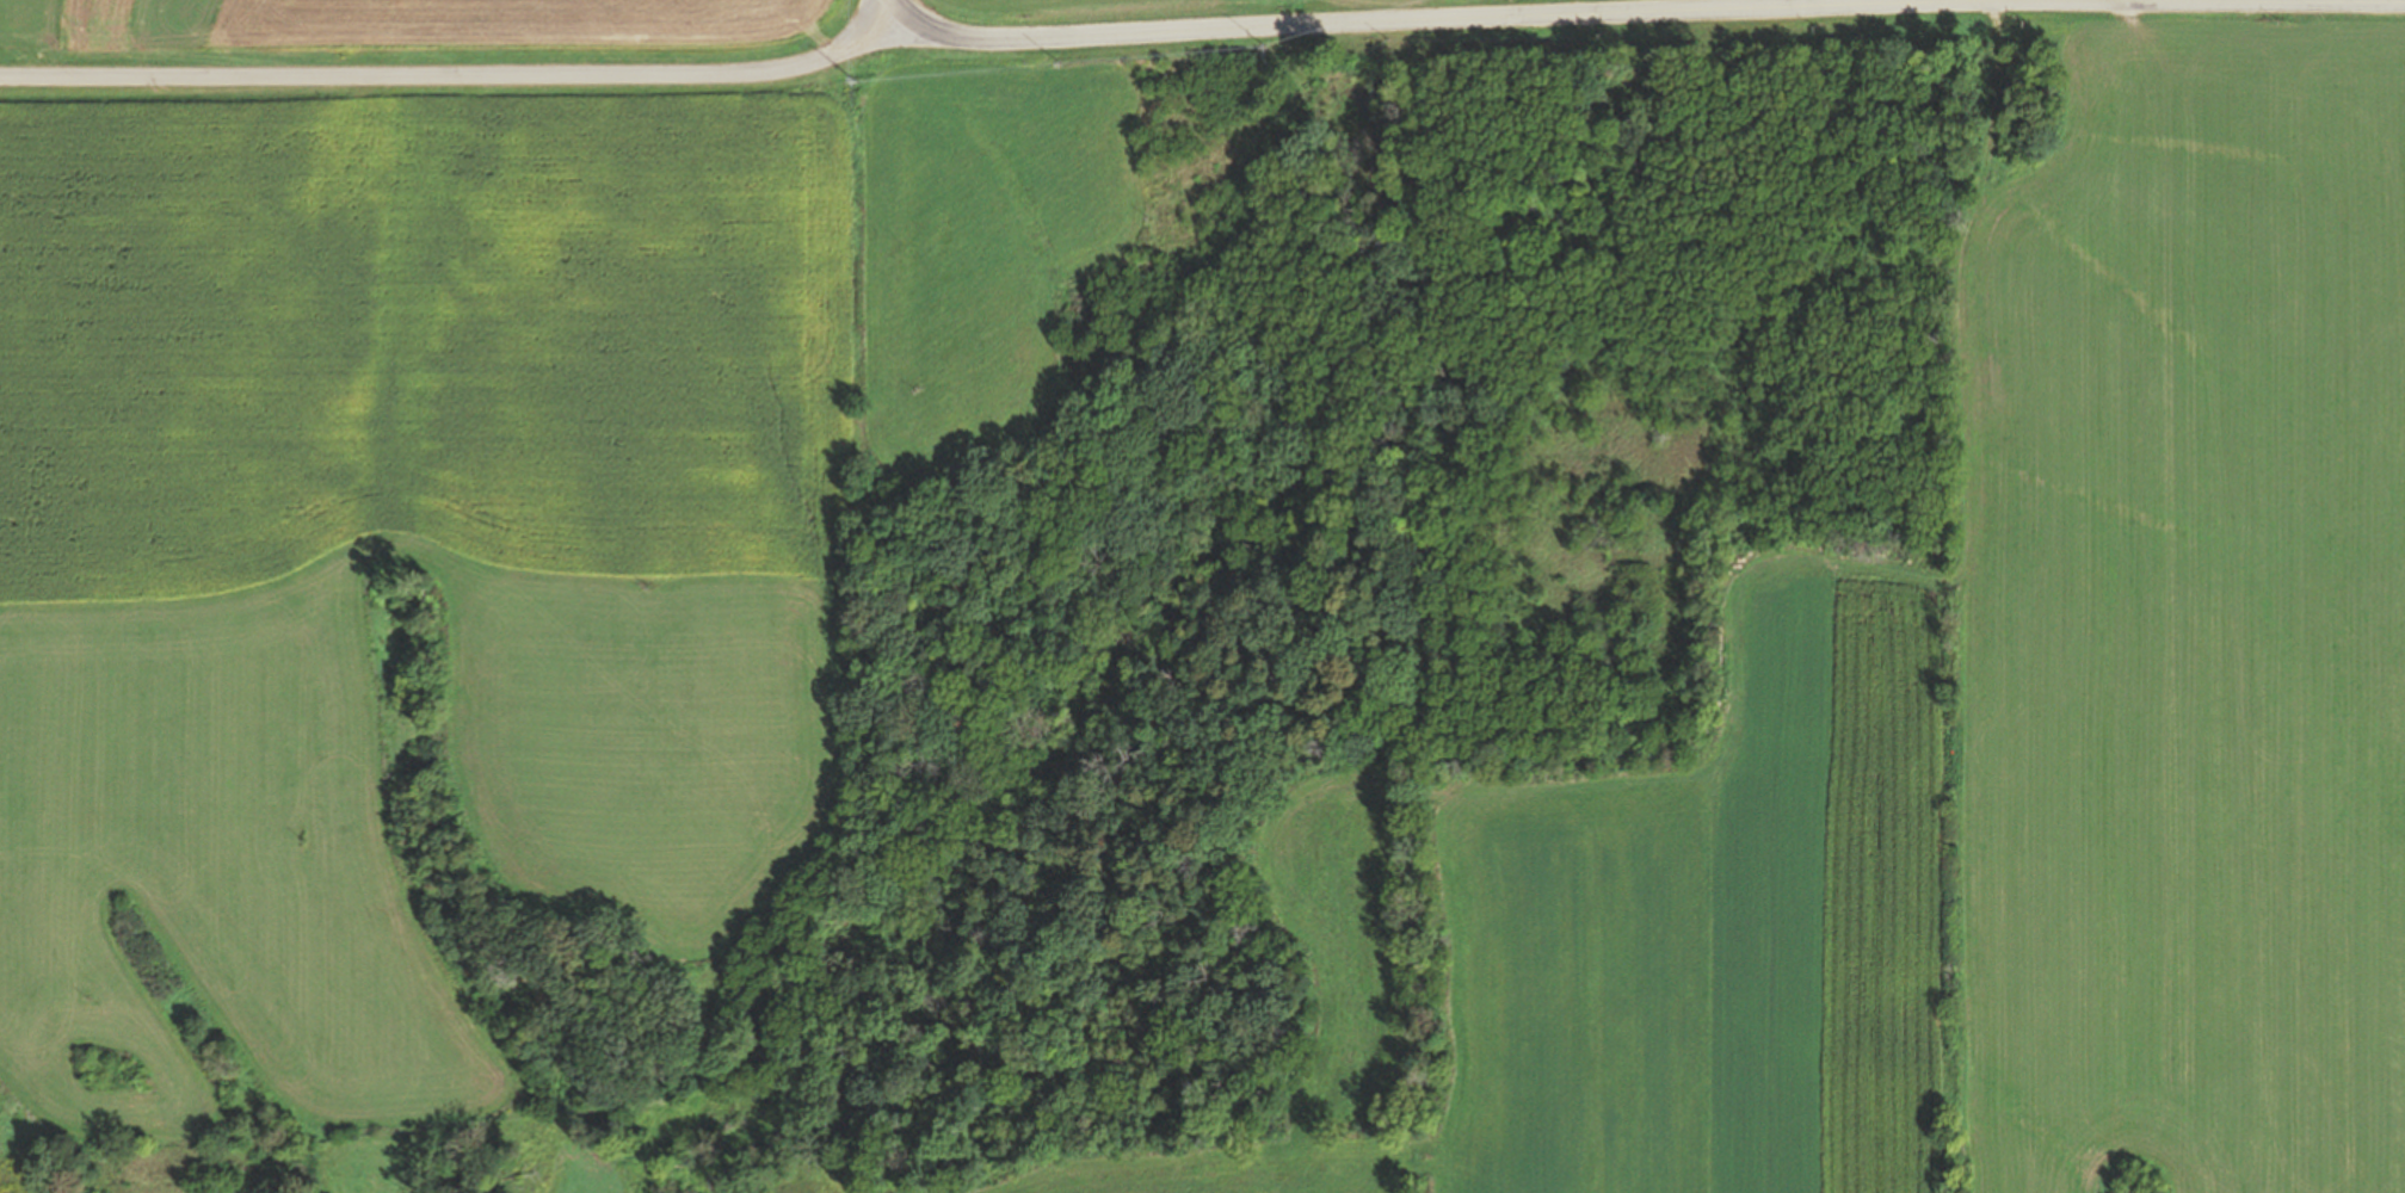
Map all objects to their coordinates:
road: (1640, 11)
road: (457, 73)

